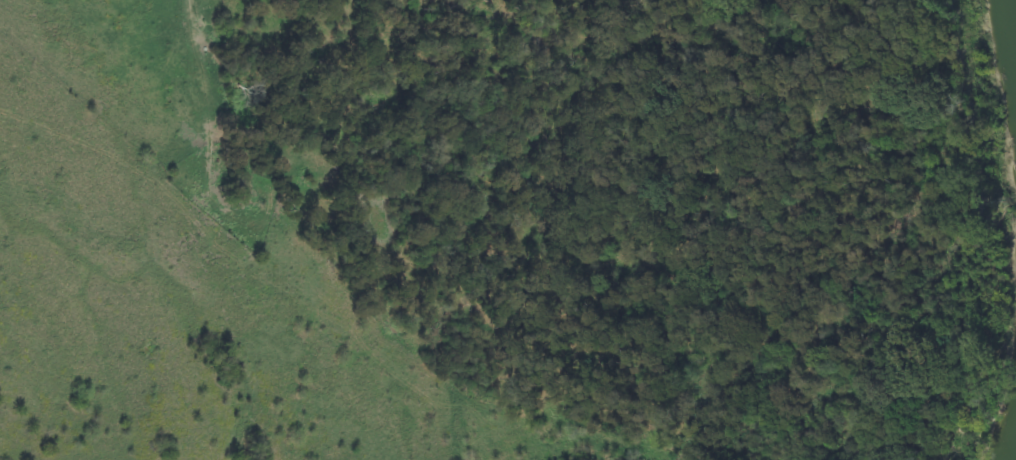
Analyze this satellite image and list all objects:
river: (1013, 11)
river: (1013, 455)

